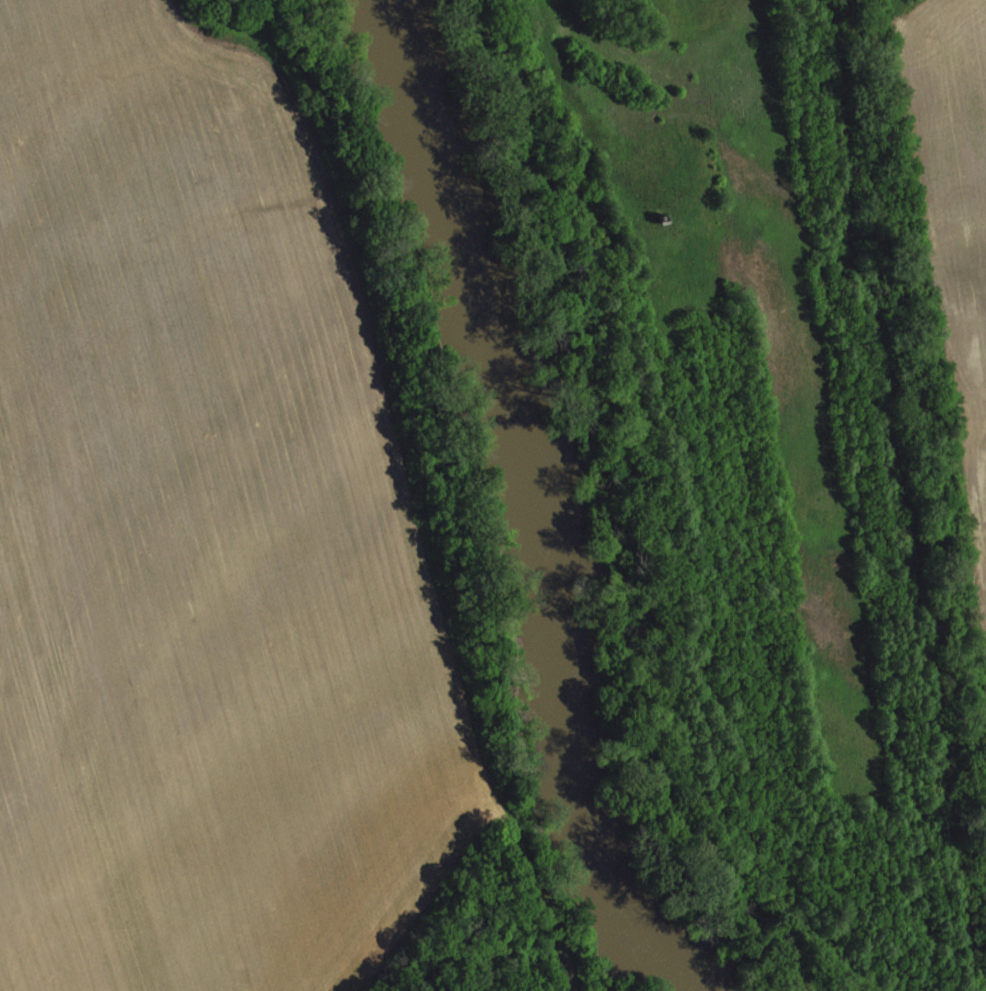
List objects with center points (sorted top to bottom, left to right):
river: (551, 506)
crop: (206, 532)
crop: (571, 986)

